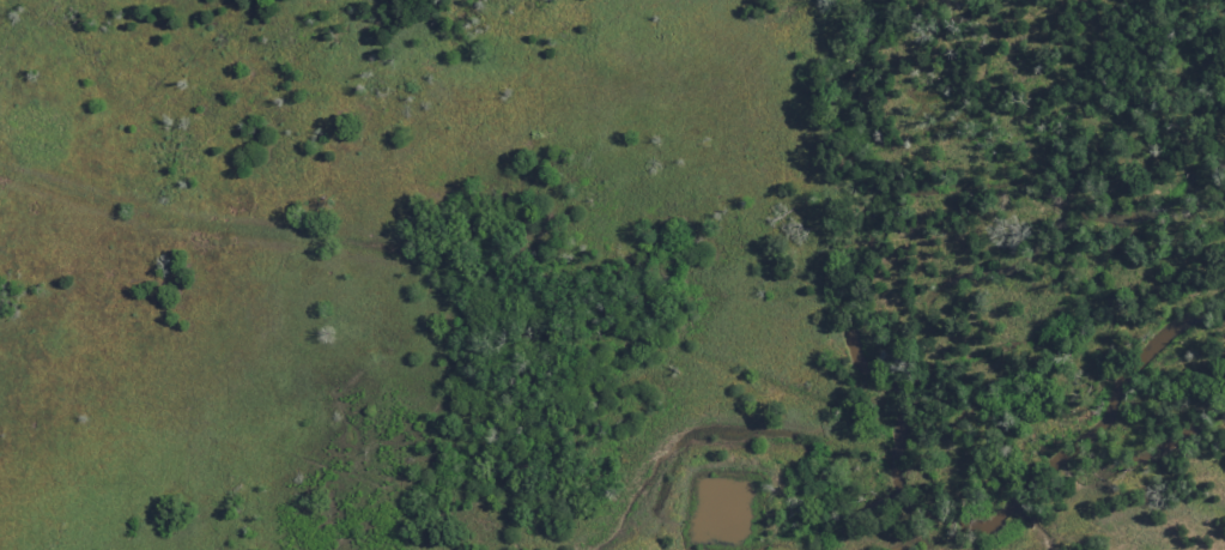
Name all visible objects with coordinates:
road: (201, 132)

